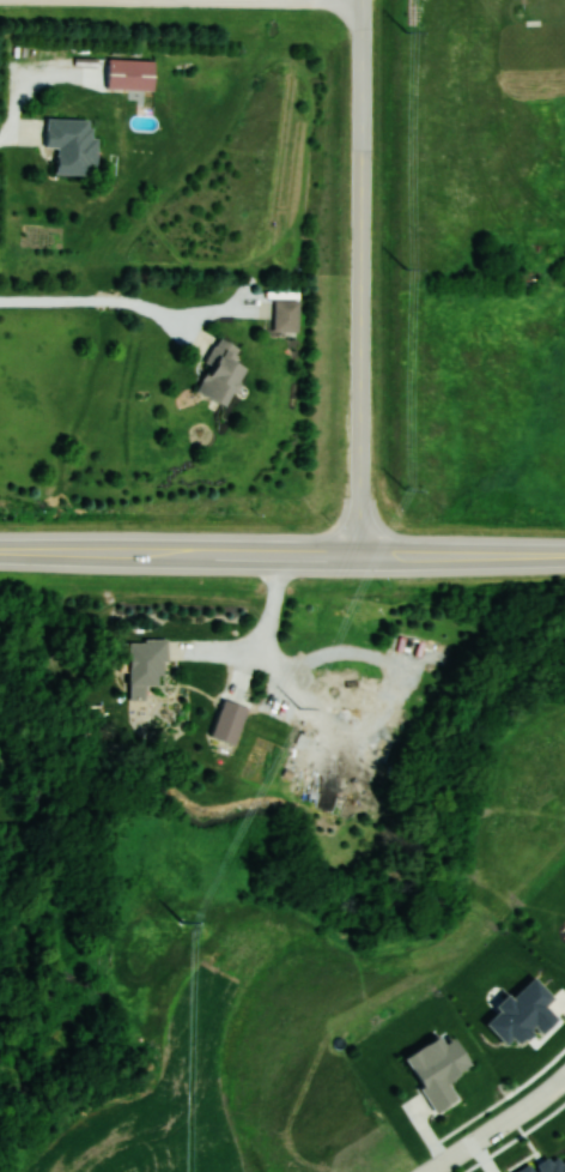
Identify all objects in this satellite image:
power tower: (406, 34)
building: (128, 74)
building: (71, 146)
power tower: (406, 272)
road: (360, 278)
road: (96, 302)
building: (285, 315)
building: (219, 374)
power tower: (403, 489)
road: (180, 552)
road: (462, 555)
building: (146, 660)
power tower: (298, 707)
building: (227, 721)
power tower: (183, 924)
road: (498, 1126)

